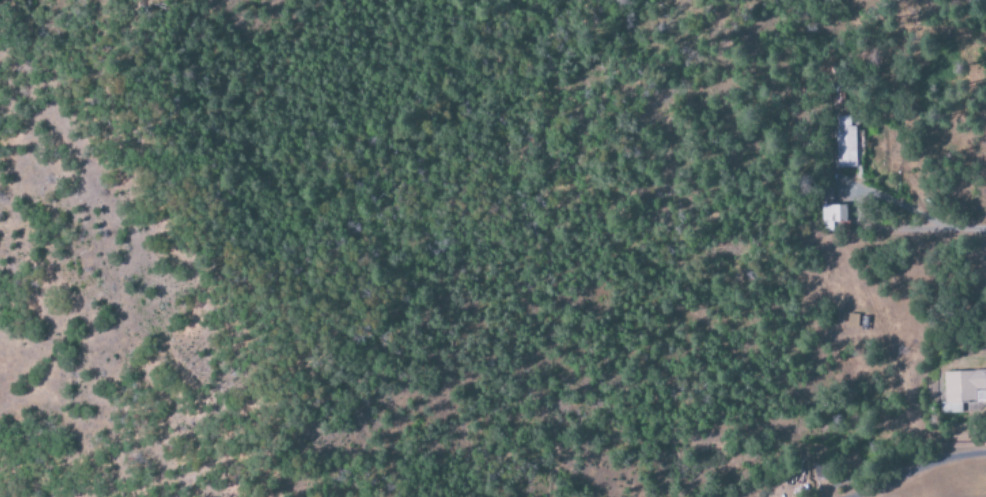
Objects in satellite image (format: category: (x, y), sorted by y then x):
building: (845, 143)
building: (832, 216)
building: (852, 321)
building: (961, 390)

